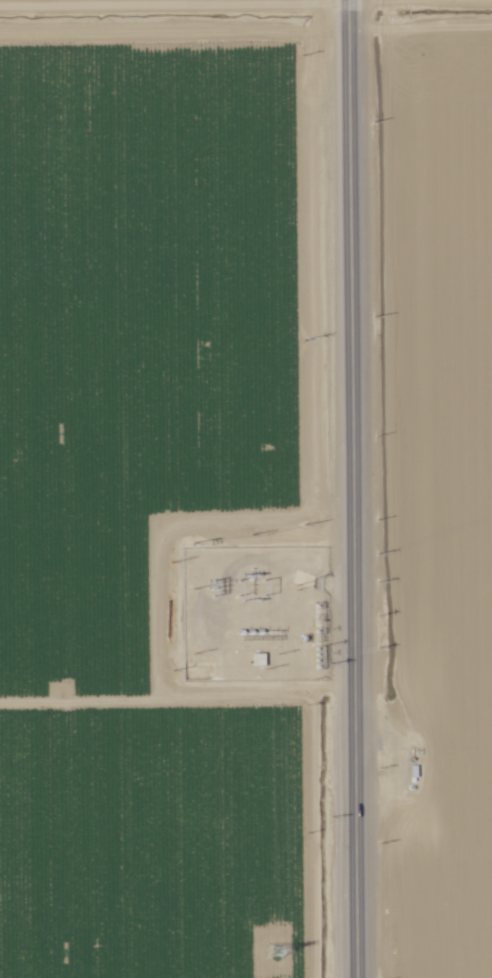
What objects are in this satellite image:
crop: (155, 26)
crop: (445, 30)
road: (348, 489)
crop: (153, 512)
crop: (443, 527)
power substation: (247, 621)
power tower: (268, 949)

